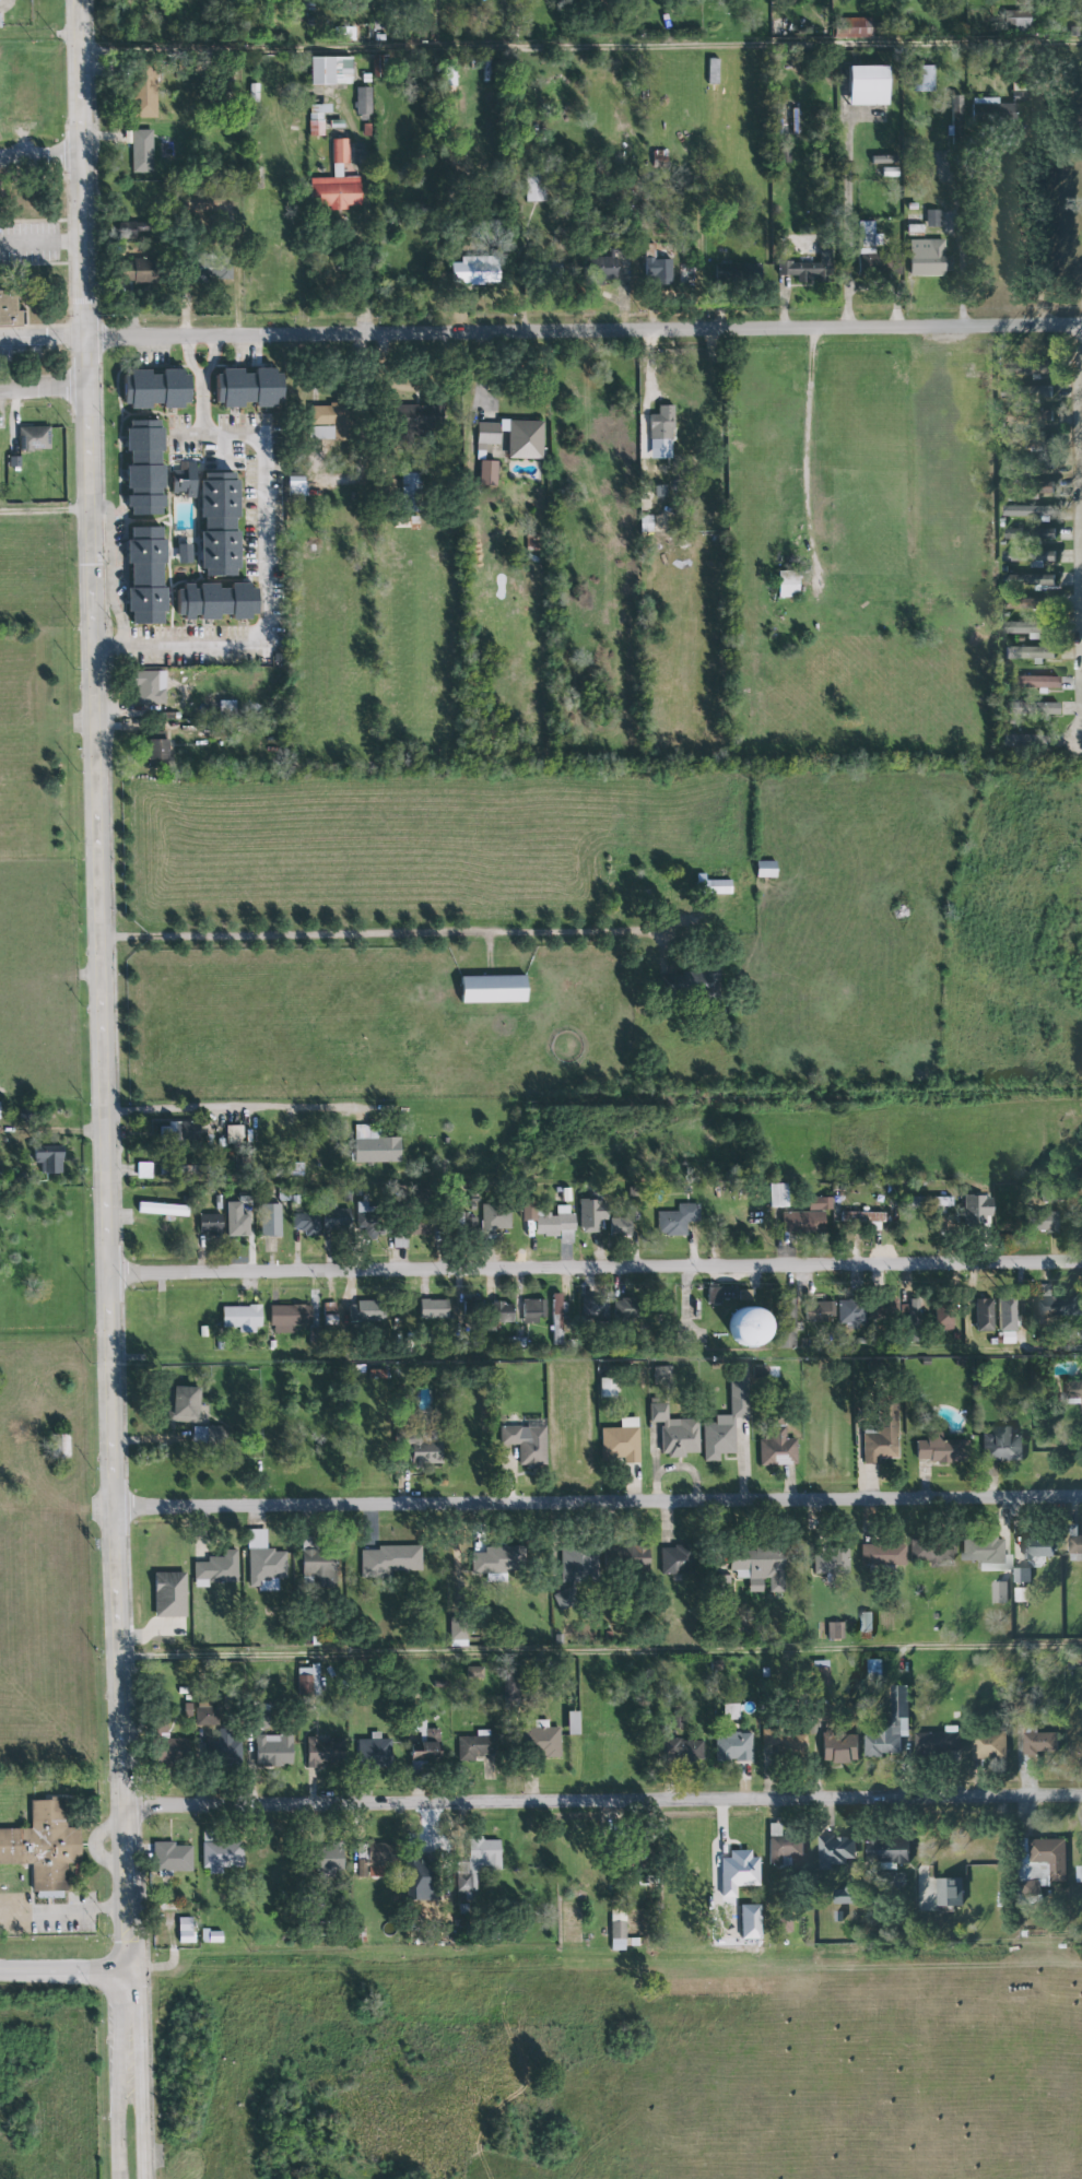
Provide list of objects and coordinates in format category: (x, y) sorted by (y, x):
building: (1016, 20)
building: (0, 21)
building: (856, 28)
road: (579, 45)
building: (380, 66)
building: (333, 70)
building: (926, 79)
building: (873, 85)
building: (148, 91)
building: (1021, 93)
building: (364, 101)
building: (993, 110)
building: (960, 111)
building: (319, 118)
building: (141, 151)
road: (39, 154)
building: (885, 160)
building: (891, 172)
building: (337, 182)
building: (537, 187)
building: (210, 208)
building: (934, 219)
road: (848, 221)
building: (138, 227)
road: (1036, 227)
road: (40, 239)
road: (368, 252)
building: (872, 254)
building: (931, 258)
building: (608, 268)
building: (805, 270)
building: (472, 271)
building: (659, 271)
building: (144, 272)
building: (737, 272)
road: (962, 272)
building: (9, 309)
road: (584, 332)
road: (43, 339)
road: (214, 358)
road: (189, 360)
road: (44, 387)
building: (246, 387)
building: (158, 389)
road: (203, 407)
building: (330, 414)
building: (1043, 416)
building: (417, 422)
building: (662, 433)
building: (511, 437)
building: (35, 438)
road: (1079, 452)
road: (807, 459)
building: (144, 468)
building: (186, 480)
building: (1028, 487)
building: (413, 492)
road: (46, 510)
building: (1025, 513)
building: (219, 522)
building: (1045, 533)
building: (184, 554)
building: (1038, 558)
road: (110, 570)
building: (145, 575)
road: (269, 580)
building: (1040, 580)
building: (790, 584)
building: (216, 601)
building: (1024, 628)
building: (1031, 653)
building: (1031, 682)
building: (153, 687)
building: (1038, 707)
building: (1010, 741)
building: (160, 752)
building: (767, 870)
building: (717, 886)
road: (103, 927)
road: (375, 934)
building: (713, 979)
building: (496, 990)
road: (233, 1106)
building: (0, 1110)
building: (184, 1130)
building: (235, 1134)
building: (376, 1145)
building: (51, 1159)
building: (144, 1169)
building: (779, 1194)
building: (939, 1201)
building: (818, 1203)
building: (164, 1209)
building: (975, 1209)
building: (860, 1217)
building: (496, 1218)
building: (237, 1220)
building: (272, 1220)
building: (354, 1220)
building: (677, 1220)
building: (553, 1221)
building: (1037, 1221)
building: (802, 1222)
building: (307, 1223)
building: (212, 1224)
building: (622, 1226)
building: (412, 1230)
road: (597, 1268)
building: (722, 1294)
building: (470, 1305)
building: (1057, 1307)
building: (435, 1308)
building: (595, 1309)
building: (627, 1309)
building: (880, 1309)
building: (368, 1310)
building: (532, 1310)
building: (819, 1310)
building: (504, 1311)
building: (848, 1311)
building: (1002, 1314)
building: (981, 1315)
building: (925, 1316)
building: (243, 1317)
building: (291, 1318)
building: (557, 1318)
building: (755, 1326)
road: (598, 1354)
building: (660, 1371)
building: (609, 1387)
building: (1072, 1393)
building: (188, 1403)
building: (726, 1422)
building: (677, 1432)
building: (879, 1432)
building: (528, 1442)
building: (620, 1445)
building: (999, 1445)
building: (64, 1446)
building: (777, 1448)
building: (934, 1448)
building: (428, 1452)
road: (600, 1501)
building: (1073, 1541)
building: (1034, 1546)
building: (983, 1550)
building: (928, 1553)
building: (880, 1554)
building: (637, 1556)
building: (499, 1559)
building: (679, 1559)
building: (391, 1560)
building: (827, 1560)
building: (264, 1563)
building: (321, 1566)
building: (762, 1567)
building: (217, 1568)
building: (577, 1574)
building: (1021, 1575)
building: (998, 1593)
building: (172, 1594)
building: (865, 1622)
building: (833, 1629)
building: (459, 1632)
road: (602, 1650)
building: (477, 1672)
building: (819, 1672)
building: (308, 1681)
building: (513, 1687)
building: (207, 1713)
building: (575, 1722)
building: (891, 1727)
building: (543, 1741)
building: (937, 1741)
building: (986, 1744)
building: (1036, 1744)
building: (228, 1746)
building: (478, 1746)
building: (734, 1746)
building: (428, 1748)
building: (691, 1748)
building: (836, 1748)
building: (274, 1750)
building: (177, 1752)
building: (325, 1752)
building: (377, 1752)
road: (604, 1801)
building: (785, 1845)
building: (45, 1847)
building: (885, 1850)
building: (834, 1851)
building: (222, 1853)
building: (173, 1857)
building: (1048, 1857)
building: (373, 1858)
building: (333, 1859)
building: (479, 1864)
building: (738, 1872)
building: (423, 1876)
building: (946, 1892)
building: (838, 1896)
road: (60, 1909)
building: (752, 1921)
building: (186, 1930)
building: (619, 1930)
building: (212, 1936)
road: (69, 1962)
road: (119, 2015)
road: (143, 2016)

